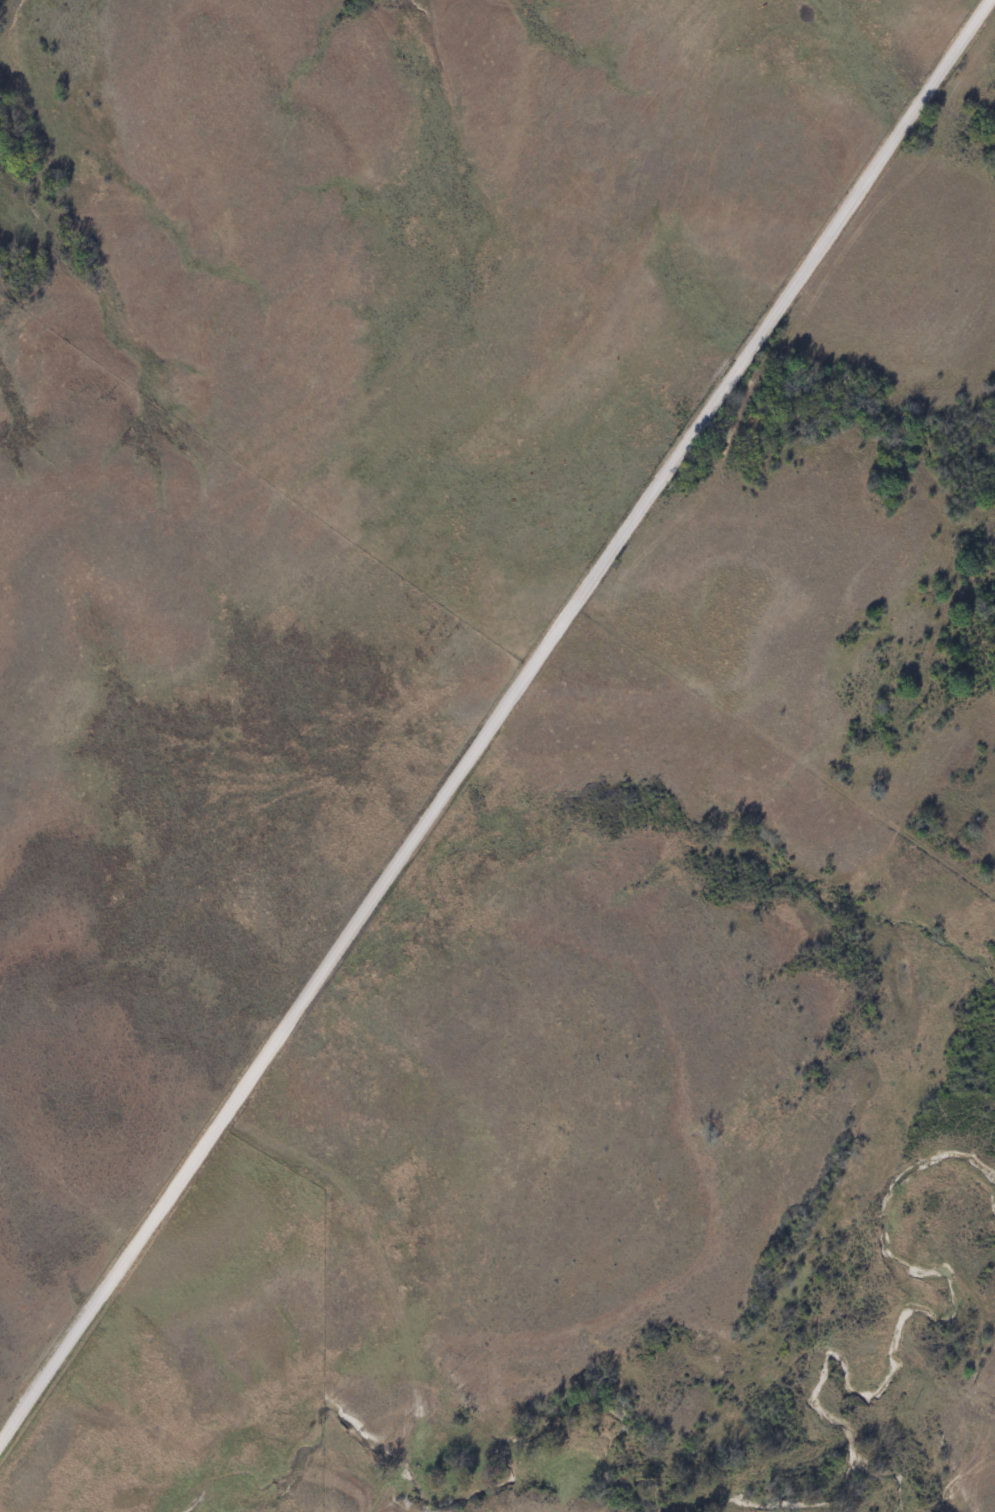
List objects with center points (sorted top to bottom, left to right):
road: (496, 727)

